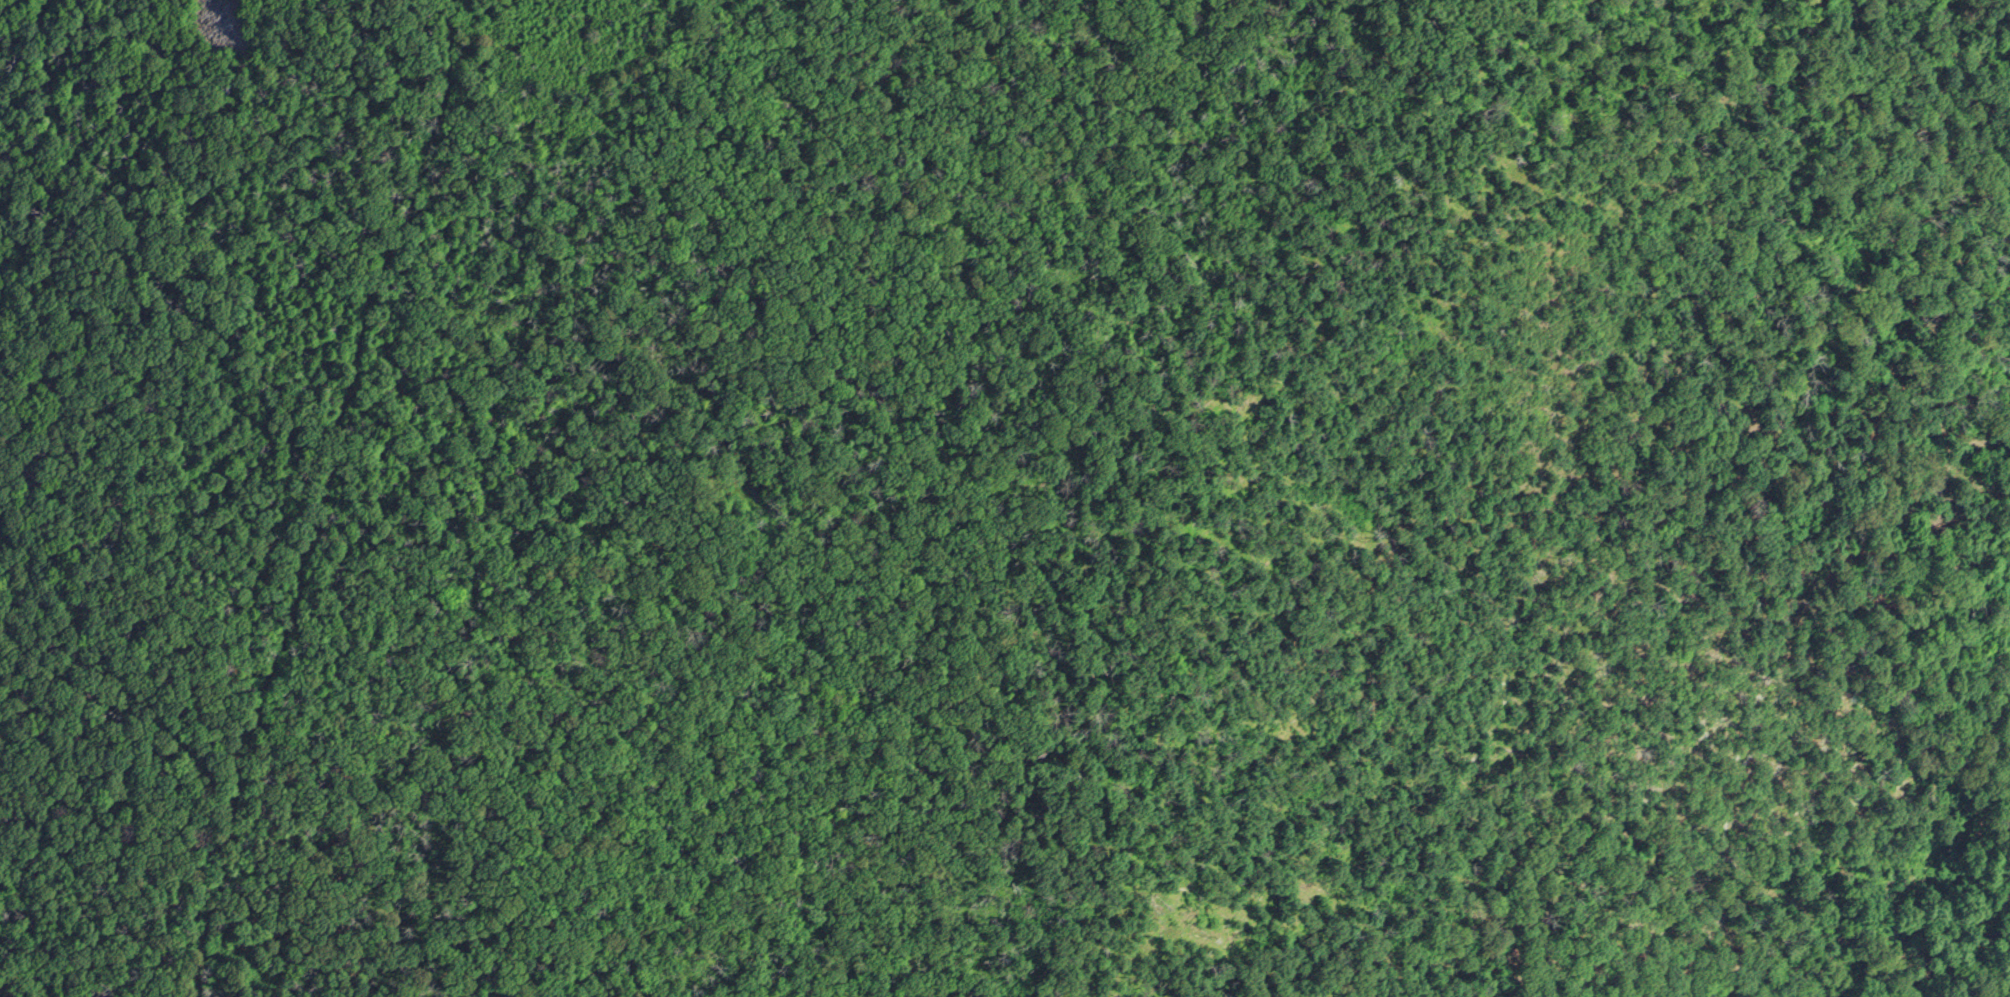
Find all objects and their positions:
road: (320, 495)
road: (1105, 507)

